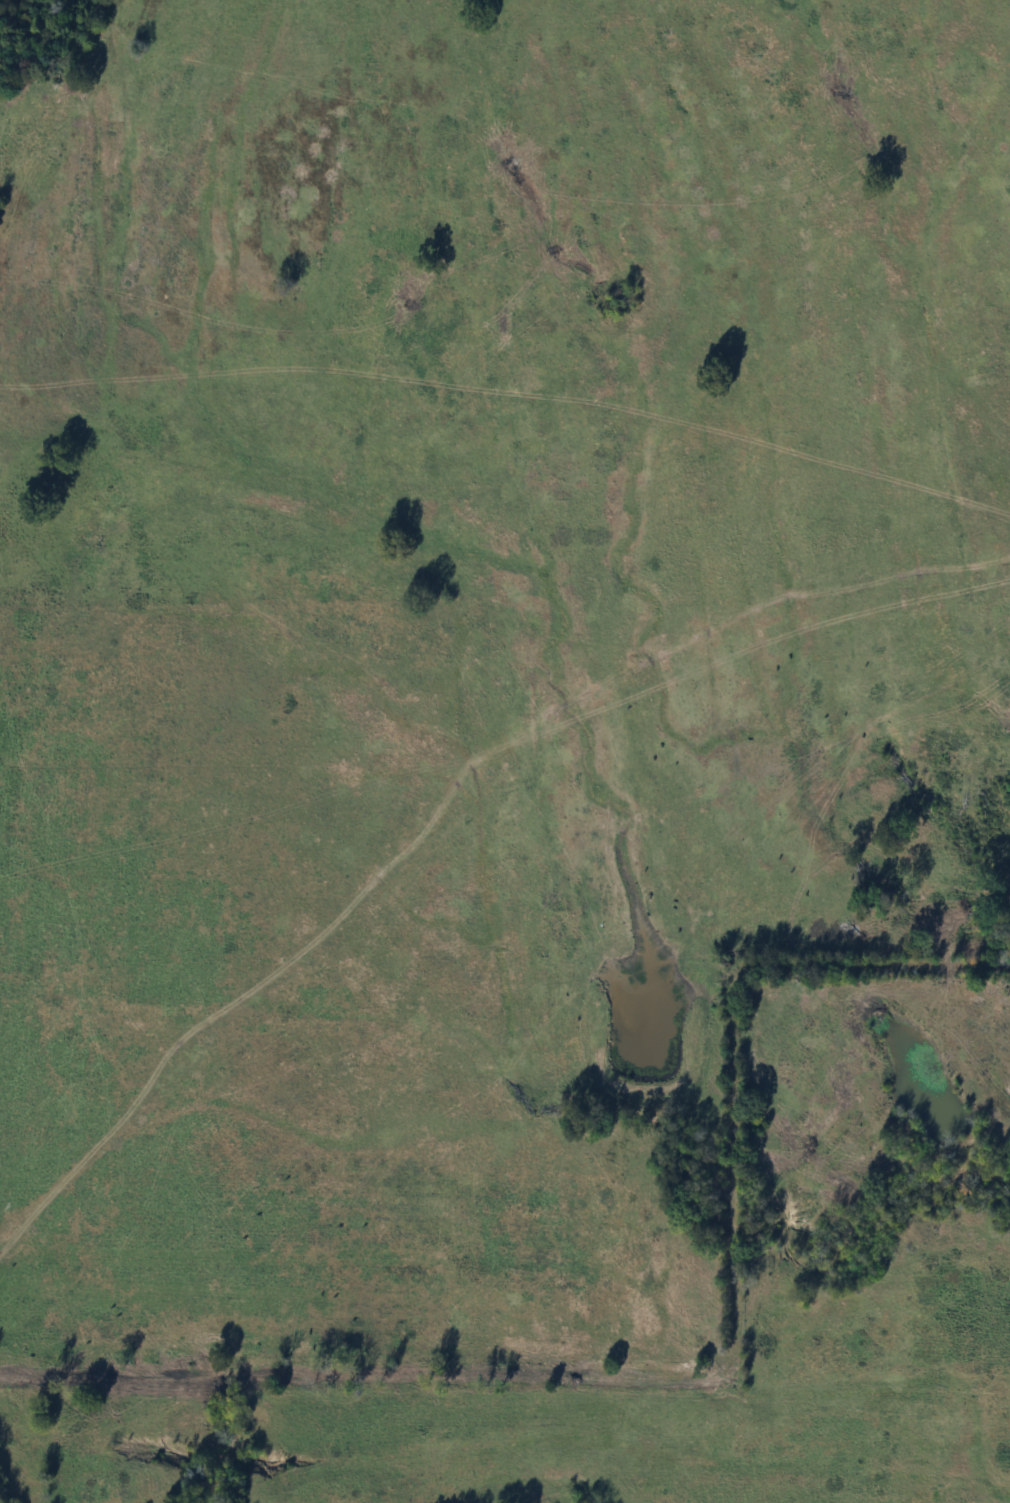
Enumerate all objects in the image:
road: (697, 1381)

